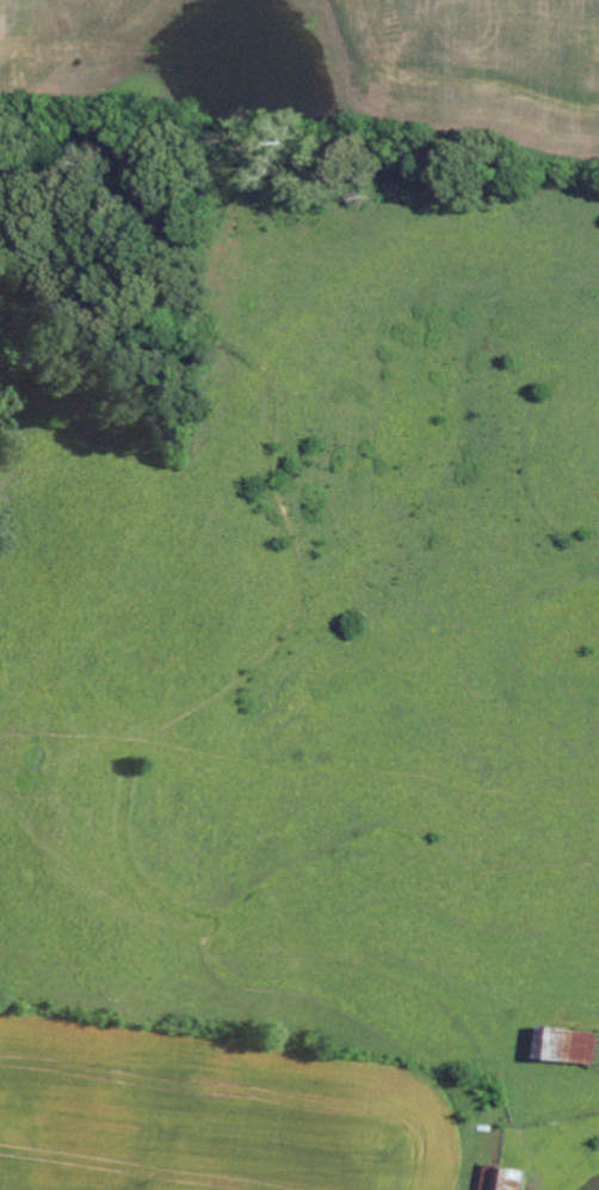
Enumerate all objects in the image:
building: (569, 1047)
building: (504, 1179)

